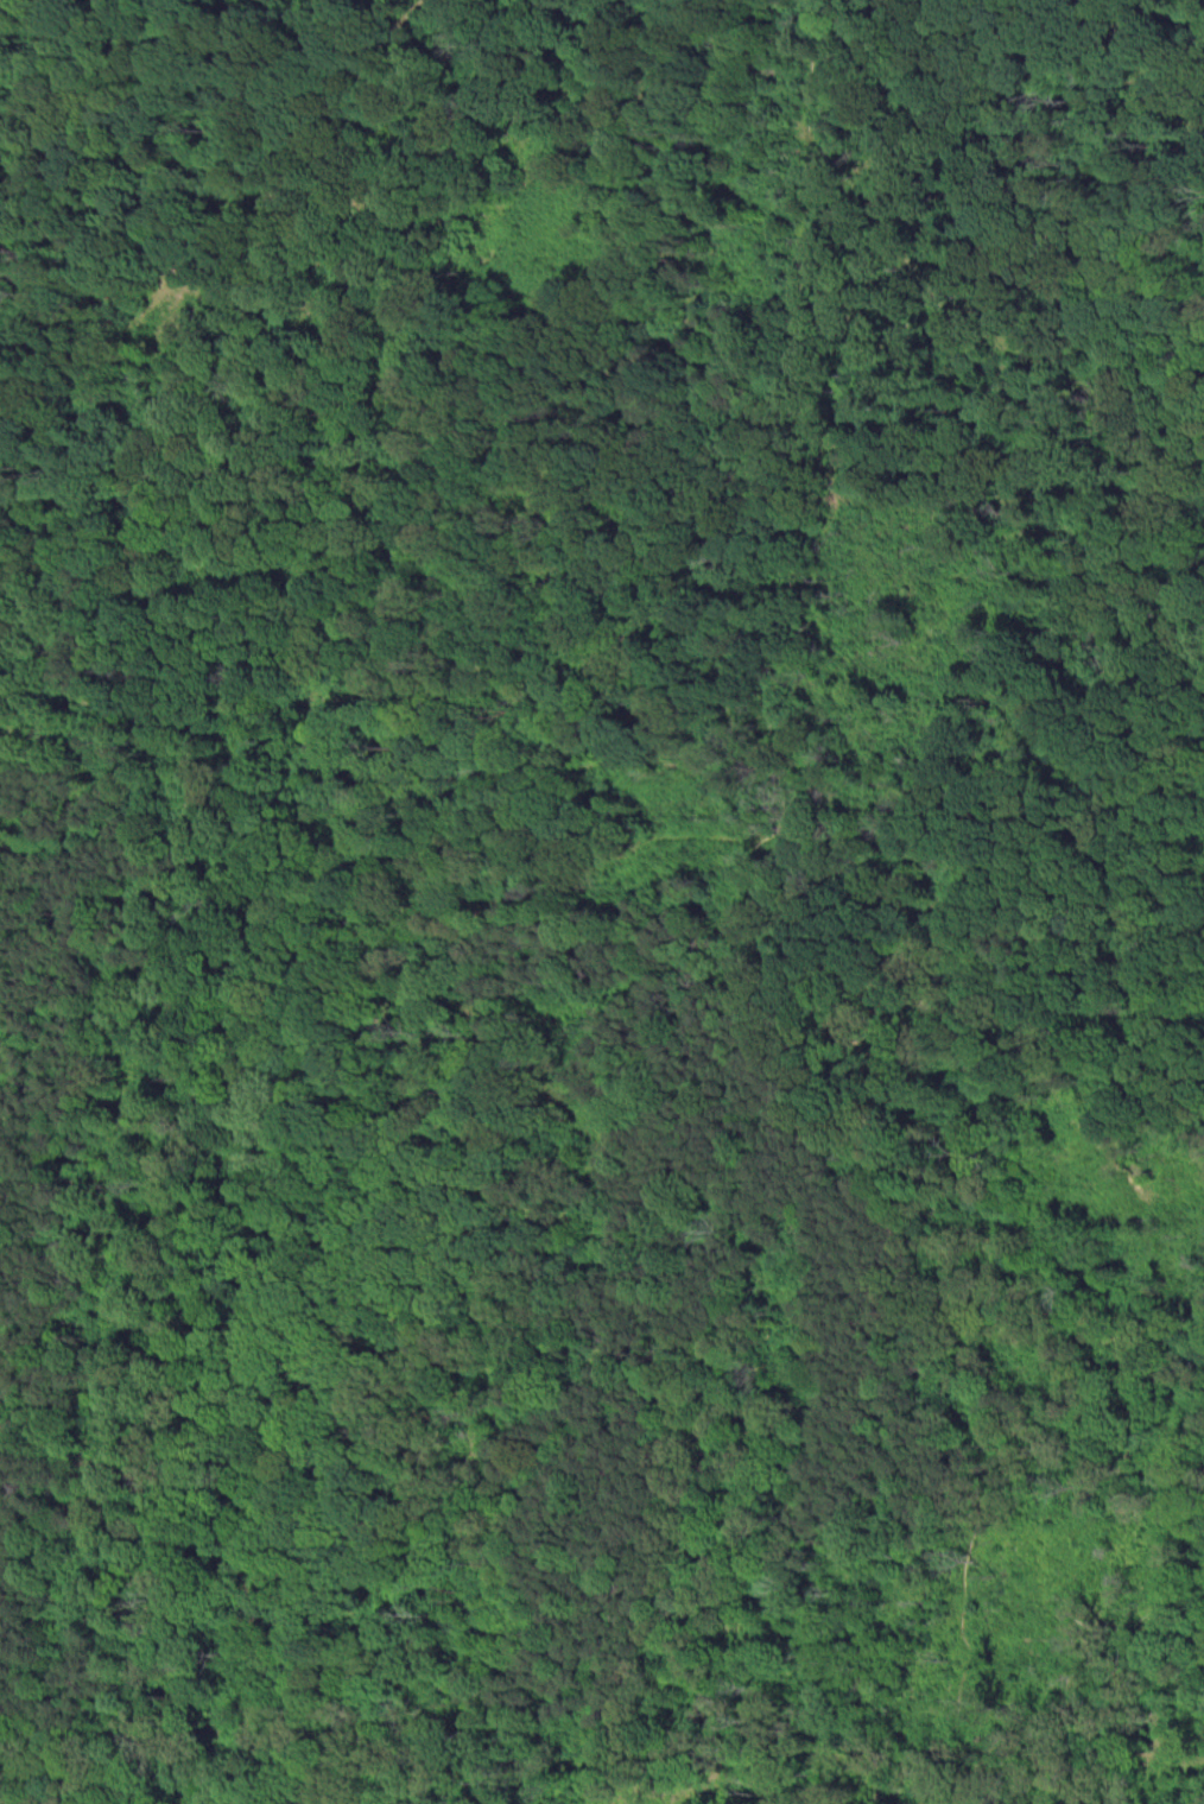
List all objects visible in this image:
road: (739, 944)

